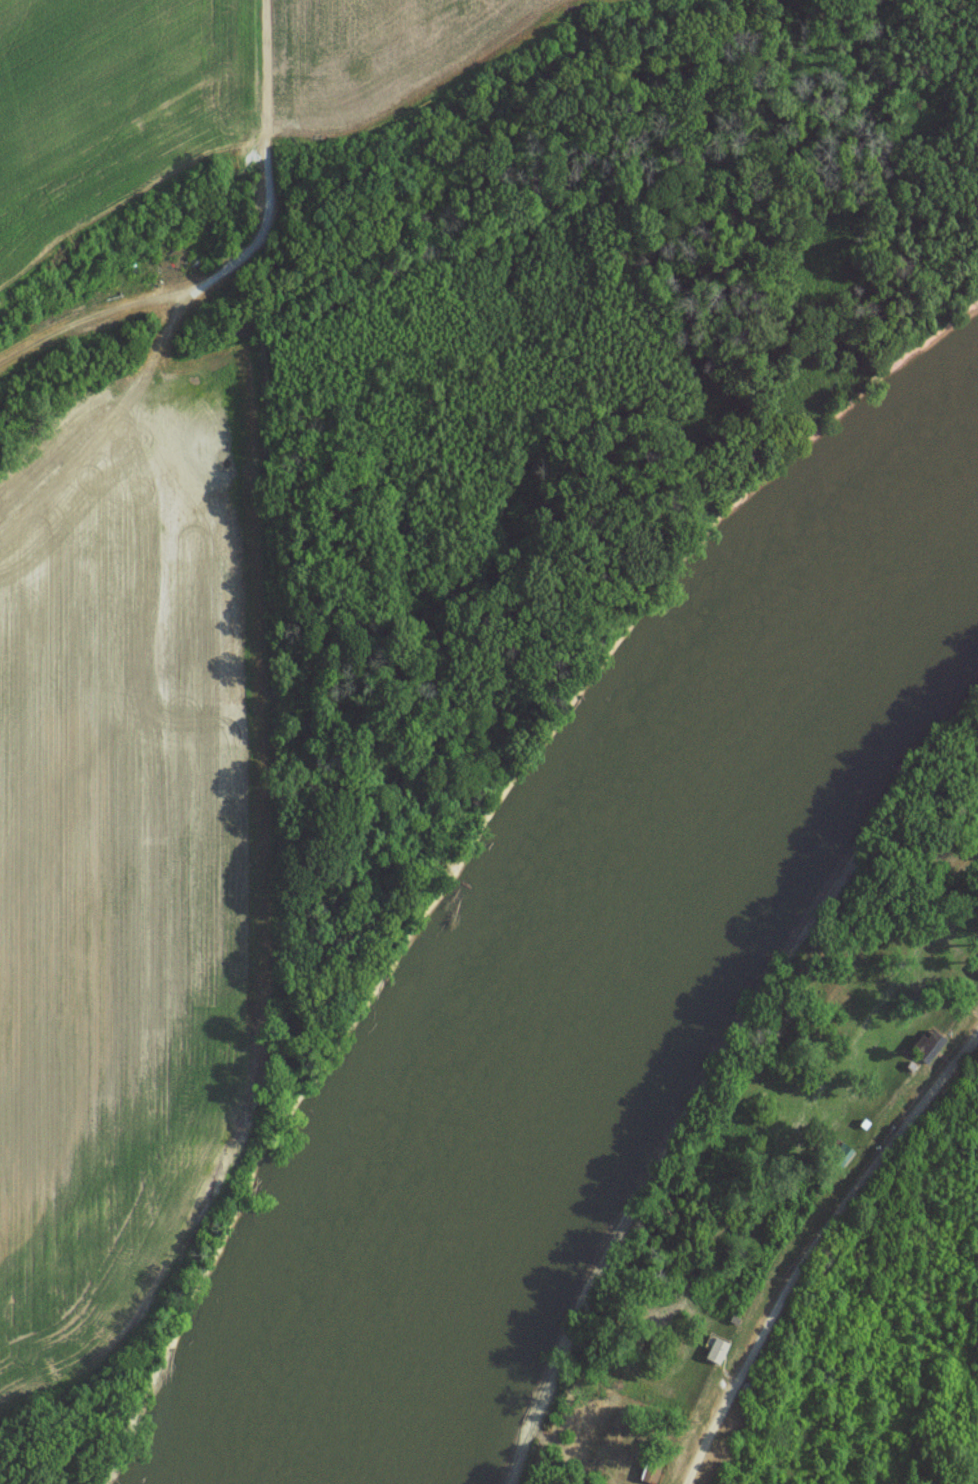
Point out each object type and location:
river: (630, 999)
road: (811, 1247)
building: (722, 1350)

